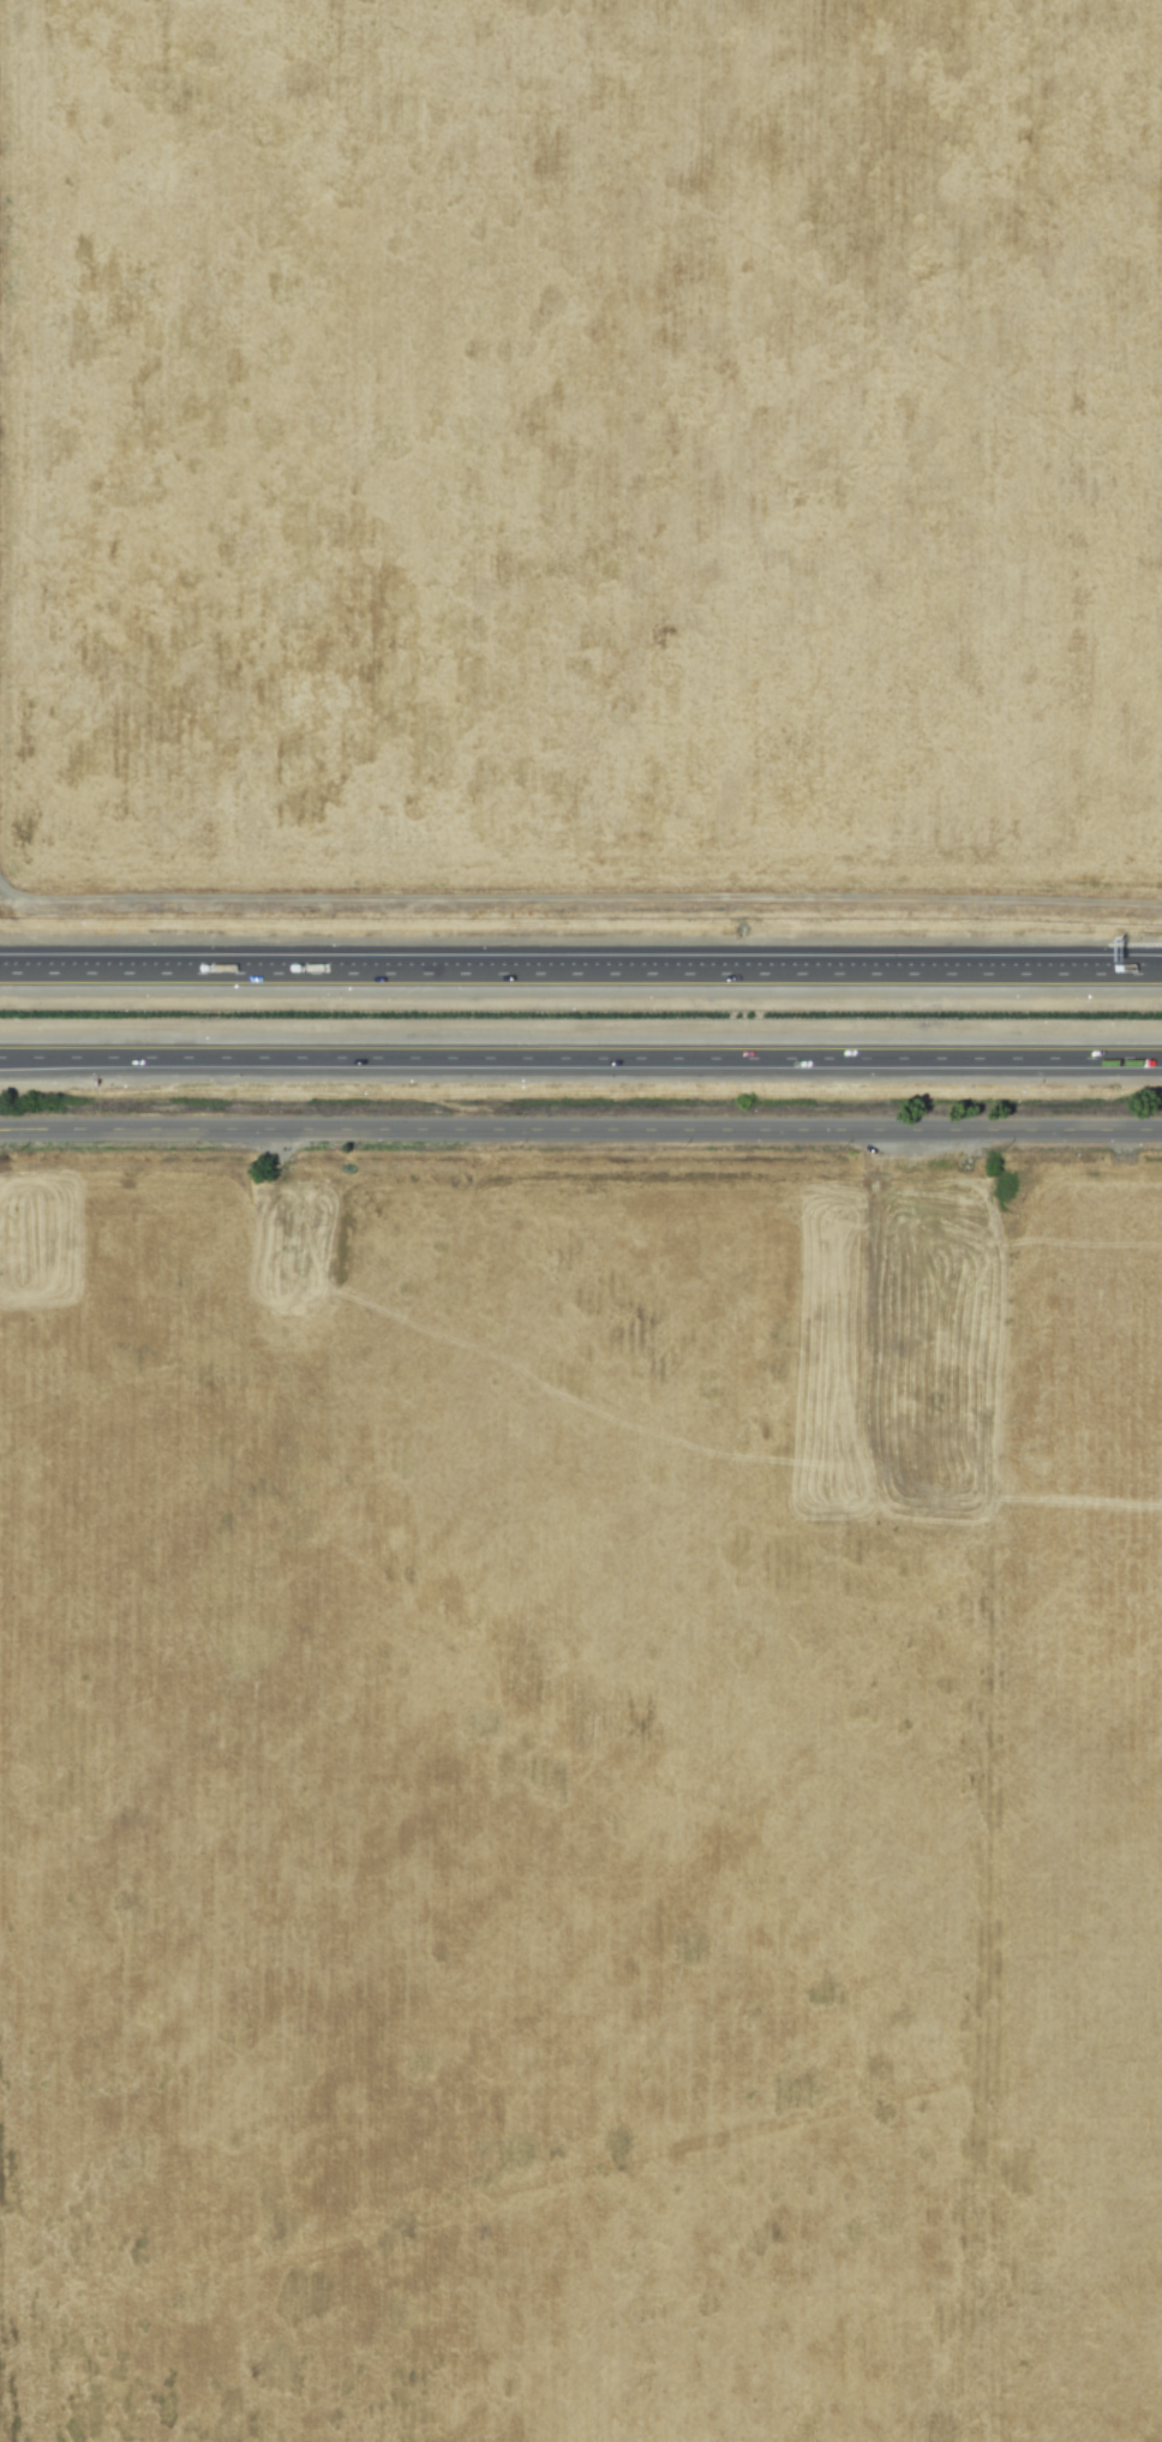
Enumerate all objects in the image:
airport: (581, 459)
road: (616, 974)
road: (35, 975)
road: (581, 1059)
road: (580, 1130)

